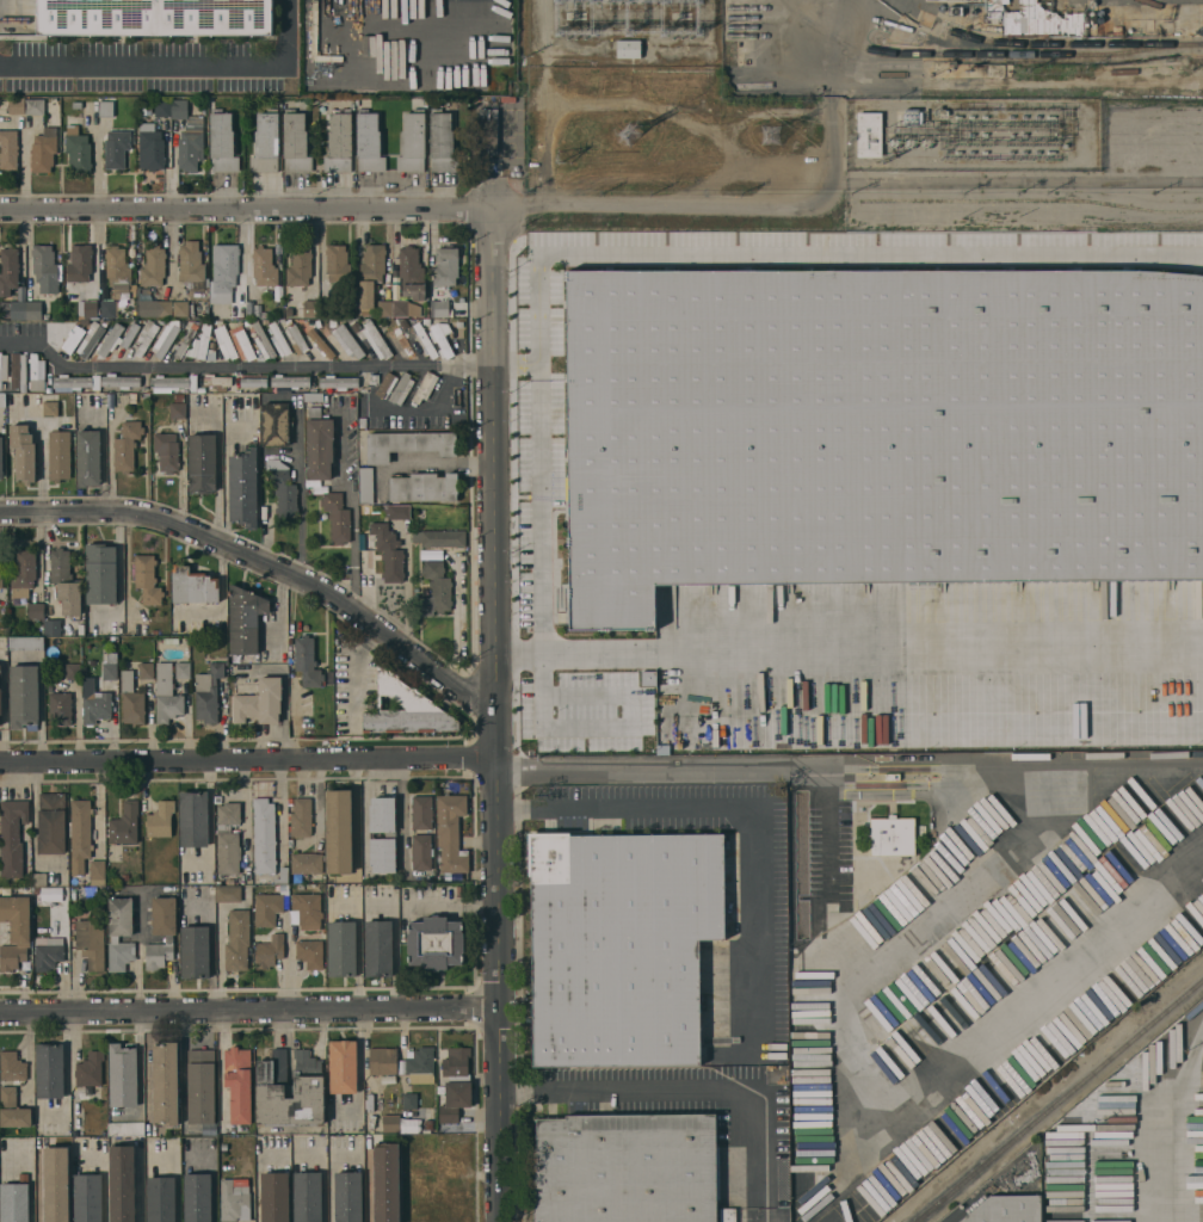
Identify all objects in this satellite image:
building: (1092, 2)
building: (955, 11)
building: (973, 11)
building: (160, 14)
building: (1035, 19)
building: (1117, 30)
power substation: (622, 32)
railway: (1071, 43)
road: (835, 47)
building: (628, 48)
railway: (985, 54)
road: (177, 67)
building: (76, 104)
building: (16, 106)
building: (35, 106)
building: (162, 107)
building: (106, 109)
building: (322, 109)
power tower: (770, 131)
power tower: (628, 134)
building: (869, 134)
power substation: (973, 134)
building: (187, 136)
building: (265, 141)
building: (222, 142)
building: (339, 142)
building: (369, 142)
building: (412, 142)
building: (442, 142)
building: (295, 143)
building: (150, 147)
building: (116, 148)
building: (8, 149)
building: (78, 149)
building: (44, 150)
road: (832, 152)
power tower: (560, 154)
road: (845, 205)
road: (245, 209)
road: (667, 249)
building: (80, 263)
building: (338, 264)
building: (191, 265)
building: (153, 266)
building: (264, 266)
building: (300, 266)
building: (446, 266)
building: (47, 269)
building: (118, 269)
building: (8, 271)
building: (223, 272)
building: (412, 272)
building: (370, 274)
building: (20, 307)
building: (91, 308)
building: (109, 308)
building: (164, 308)
building: (181, 308)
building: (311, 308)
building: (384, 308)
building: (406, 308)
building: (440, 308)
building: (289, 311)
building: (427, 320)
building: (309, 322)
building: (333, 322)
building: (352, 322)
building: (393, 322)
building: (446, 322)
building: (60, 331)
building: (129, 334)
building: (146, 337)
building: (166, 338)
building: (73, 339)
building: (90, 339)
building: (109, 339)
building: (296, 339)
building: (186, 340)
building: (279, 340)
building: (347, 340)
building: (378, 340)
building: (425, 340)
building: (224, 341)
building: (264, 341)
building: (440, 341)
building: (242, 342)
building: (321, 342)
building: (400, 342)
building: (202, 345)
road: (469, 364)
road: (218, 365)
building: (2, 368)
building: (18, 370)
building: (36, 374)
building: (374, 378)
building: (72, 381)
building: (121, 381)
building: (290, 381)
building: (169, 382)
building: (218, 382)
building: (254, 382)
building: (338, 382)
building: (385, 384)
building: (425, 387)
building: (401, 388)
building: (132, 397)
building: (2, 400)
building: (51, 408)
building: (177, 409)
road: (426, 409)
building: (363, 421)
building: (276, 424)
road: (492, 430)
building: (880, 433)
building: (319, 444)
building: (408, 444)
building: (127, 445)
building: (23, 451)
building: (166, 451)
building: (58, 455)
building: (1, 457)
building: (88, 457)
building: (202, 463)
road: (443, 464)
road: (218, 468)
building: (366, 485)
building: (243, 487)
building: (283, 487)
road: (300, 487)
building: (424, 487)
road: (352, 508)
building: (396, 511)
building: (337, 517)
building: (363, 535)
building: (443, 538)
building: (363, 543)
building: (389, 551)
road: (266, 562)
building: (23, 573)
building: (100, 574)
building: (1, 579)
building: (147, 579)
building: (64, 581)
building: (192, 586)
building: (436, 590)
building: (426, 592)
building: (36, 610)
building: (245, 619)
building: (53, 627)
building: (172, 641)
building: (25, 643)
road: (575, 650)
road: (930, 650)
building: (112, 658)
building: (307, 661)
building: (0, 668)
building: (146, 669)
building: (183, 669)
building: (73, 671)
building: (110, 671)
road: (354, 671)
building: (49, 674)
road: (542, 691)
building: (208, 692)
building: (166, 695)
building: (24, 697)
building: (131, 699)
building: (0, 702)
building: (260, 702)
building: (94, 703)
building: (60, 708)
building: (406, 709)
road: (248, 765)
road: (677, 769)
building: (893, 777)
road: (746, 809)
building: (421, 813)
building: (301, 817)
building: (160, 819)
building: (193, 819)
building: (51, 822)
building: (124, 823)
building: (339, 831)
building: (80, 833)
building: (382, 834)
building: (264, 835)
building: (450, 835)
building: (892, 835)
building: (12, 837)
building: (228, 838)
building: (291, 843)
building: (421, 852)
building: (306, 863)
building: (97, 872)
building: (124, 876)
building: (282, 876)
building: (39, 878)
building: (285, 888)
building: (36, 890)
building: (88, 893)
building: (234, 893)
building: (266, 908)
building: (307, 909)
building: (14, 931)
building: (119, 932)
building: (161, 932)
road: (498, 936)
building: (237, 939)
building: (625, 939)
building: (91, 943)
building: (436, 943)
building: (378, 948)
building: (341, 949)
building: (269, 951)
building: (48, 952)
building: (195, 952)
building: (310, 953)
road: (288, 967)
road: (249, 1011)
building: (383, 1060)
building: (456, 1061)
building: (420, 1064)
building: (12, 1067)
building: (343, 1067)
building: (90, 1069)
building: (49, 1070)
building: (123, 1075)
building: (237, 1082)
building: (166, 1084)
building: (200, 1086)
building: (290, 1090)
road: (691, 1092)
railway: (1059, 1099)
building: (409, 1100)
building: (455, 1100)
building: (12, 1109)
road: (1174, 1121)
building: (391, 1123)
building: (428, 1125)
building: (127, 1128)
building: (630, 1167)
road: (323, 1179)
building: (122, 1183)
road: (331, 1183)
building: (385, 1183)
building: (56, 1184)
building: (454, 1185)
building: (418, 1189)
building: (308, 1196)
building: (87, 1197)
building: (197, 1197)
building: (274, 1197)
building: (348, 1197)
building: (160, 1199)
building: (14, 1201)
building: (234, 1201)
building: (1010, 1206)
building: (727, 1215)

